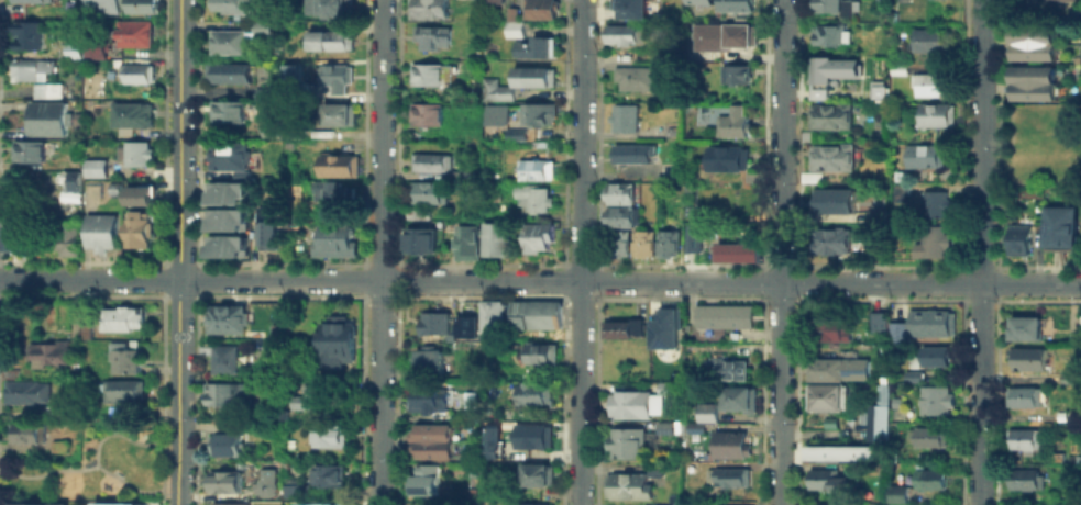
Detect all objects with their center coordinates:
building: (30, 0)
building: (880, 0)
building: (1054, 0)
building: (492, 1)
building: (696, 1)
building: (142, 5)
building: (232, 5)
building: (326, 5)
building: (732, 5)
building: (101, 7)
building: (837, 7)
building: (428, 8)
building: (628, 8)
building: (1030, 8)
building: (538, 9)
building: (510, 12)
building: (260, 26)
building: (514, 29)
building: (134, 33)
building: (621, 33)
building: (829, 33)
building: (27, 34)
building: (432, 35)
building: (720, 35)
building: (929, 38)
building: (329, 40)
building: (228, 41)
building: (1035, 43)
building: (532, 46)
building: (93, 49)
building: (73, 50)
building: (830, 67)
building: (896, 67)
building: (30, 68)
building: (291, 71)
building: (135, 72)
building: (227, 72)
building: (428, 74)
building: (735, 74)
building: (532, 76)
building: (335, 77)
building: (632, 77)
building: (929, 81)
building: (1035, 82)
building: (45, 88)
building: (496, 89)
building: (878, 89)
building: (261, 92)
building: (224, 110)
building: (540, 112)
building: (427, 113)
building: (495, 113)
building: (936, 113)
building: (131, 114)
building: (340, 114)
building: (830, 114)
building: (624, 116)
building: (45, 119)
building: (463, 121)
building: (731, 121)
building: (271, 128)
building: (514, 133)
building: (27, 150)
building: (632, 151)
building: (135, 153)
building: (227, 155)
building: (924, 155)
building: (722, 157)
building: (830, 157)
building: (430, 160)
building: (339, 165)
building: (96, 167)
building: (536, 168)
building: (665, 168)
building: (749, 175)
building: (70, 180)
building: (897, 190)
building: (335, 191)
building: (427, 192)
building: (618, 192)
building: (227, 193)
building: (137, 194)
building: (531, 198)
building: (834, 198)
building: (934, 202)
building: (876, 212)
building: (416, 214)
building: (618, 215)
building: (225, 218)
building: (1058, 221)
building: (265, 226)
building: (137, 228)
building: (16, 232)
building: (101, 232)
building: (416, 236)
building: (537, 236)
building: (691, 237)
building: (497, 238)
building: (1018, 238)
building: (66, 239)
building: (832, 240)
building: (334, 242)
building: (642, 242)
building: (668, 242)
building: (466, 243)
building: (617, 243)
building: (928, 243)
building: (225, 246)
building: (737, 250)
road: (178, 252)
road: (380, 252)
road: (584, 252)
road: (781, 252)
road: (980, 252)
road: (540, 280)
building: (534, 313)
building: (725, 313)
building: (119, 316)
building: (490, 316)
building: (227, 317)
building: (879, 319)
building: (433, 321)
building: (928, 321)
building: (464, 326)
building: (663, 326)
building: (622, 327)
building: (1025, 327)
building: (827, 328)
building: (896, 330)
building: (339, 340)
building: (487, 345)
building: (881, 347)
building: (48, 352)
building: (541, 352)
building: (934, 355)
building: (124, 358)
building: (225, 358)
building: (909, 358)
building: (1027, 358)
building: (429, 362)
building: (729, 368)
building: (837, 368)
building: (911, 374)
building: (1067, 378)
building: (665, 385)
building: (123, 389)
building: (25, 390)
building: (536, 392)
building: (228, 393)
building: (881, 393)
building: (1025, 395)
building: (826, 396)
building: (741, 397)
building: (934, 399)
building: (313, 400)
building: (430, 400)
building: (632, 403)
building: (705, 411)
building: (875, 423)
building: (695, 426)
building: (664, 427)
building: (26, 430)
building: (329, 435)
building: (530, 435)
road: (124, 436)
building: (930, 436)
building: (1021, 438)
building: (433, 440)
building: (489, 440)
building: (625, 442)
building: (730, 442)
building: (223, 444)
building: (839, 451)
building: (890, 453)
park: (92, 465)
road: (90, 468)
building: (470, 469)
building: (328, 474)
building: (533, 474)
building: (727, 475)
building: (930, 478)
building: (1026, 478)
building: (825, 479)
building: (422, 480)
building: (224, 481)
building: (264, 481)
building: (629, 482)
building: (291, 489)
building: (896, 493)
building: (315, 501)
building: (37, 503)
building: (115, 503)
building: (227, 504)
building: (529, 504)
building: (661, 504)
building: (719, 504)

